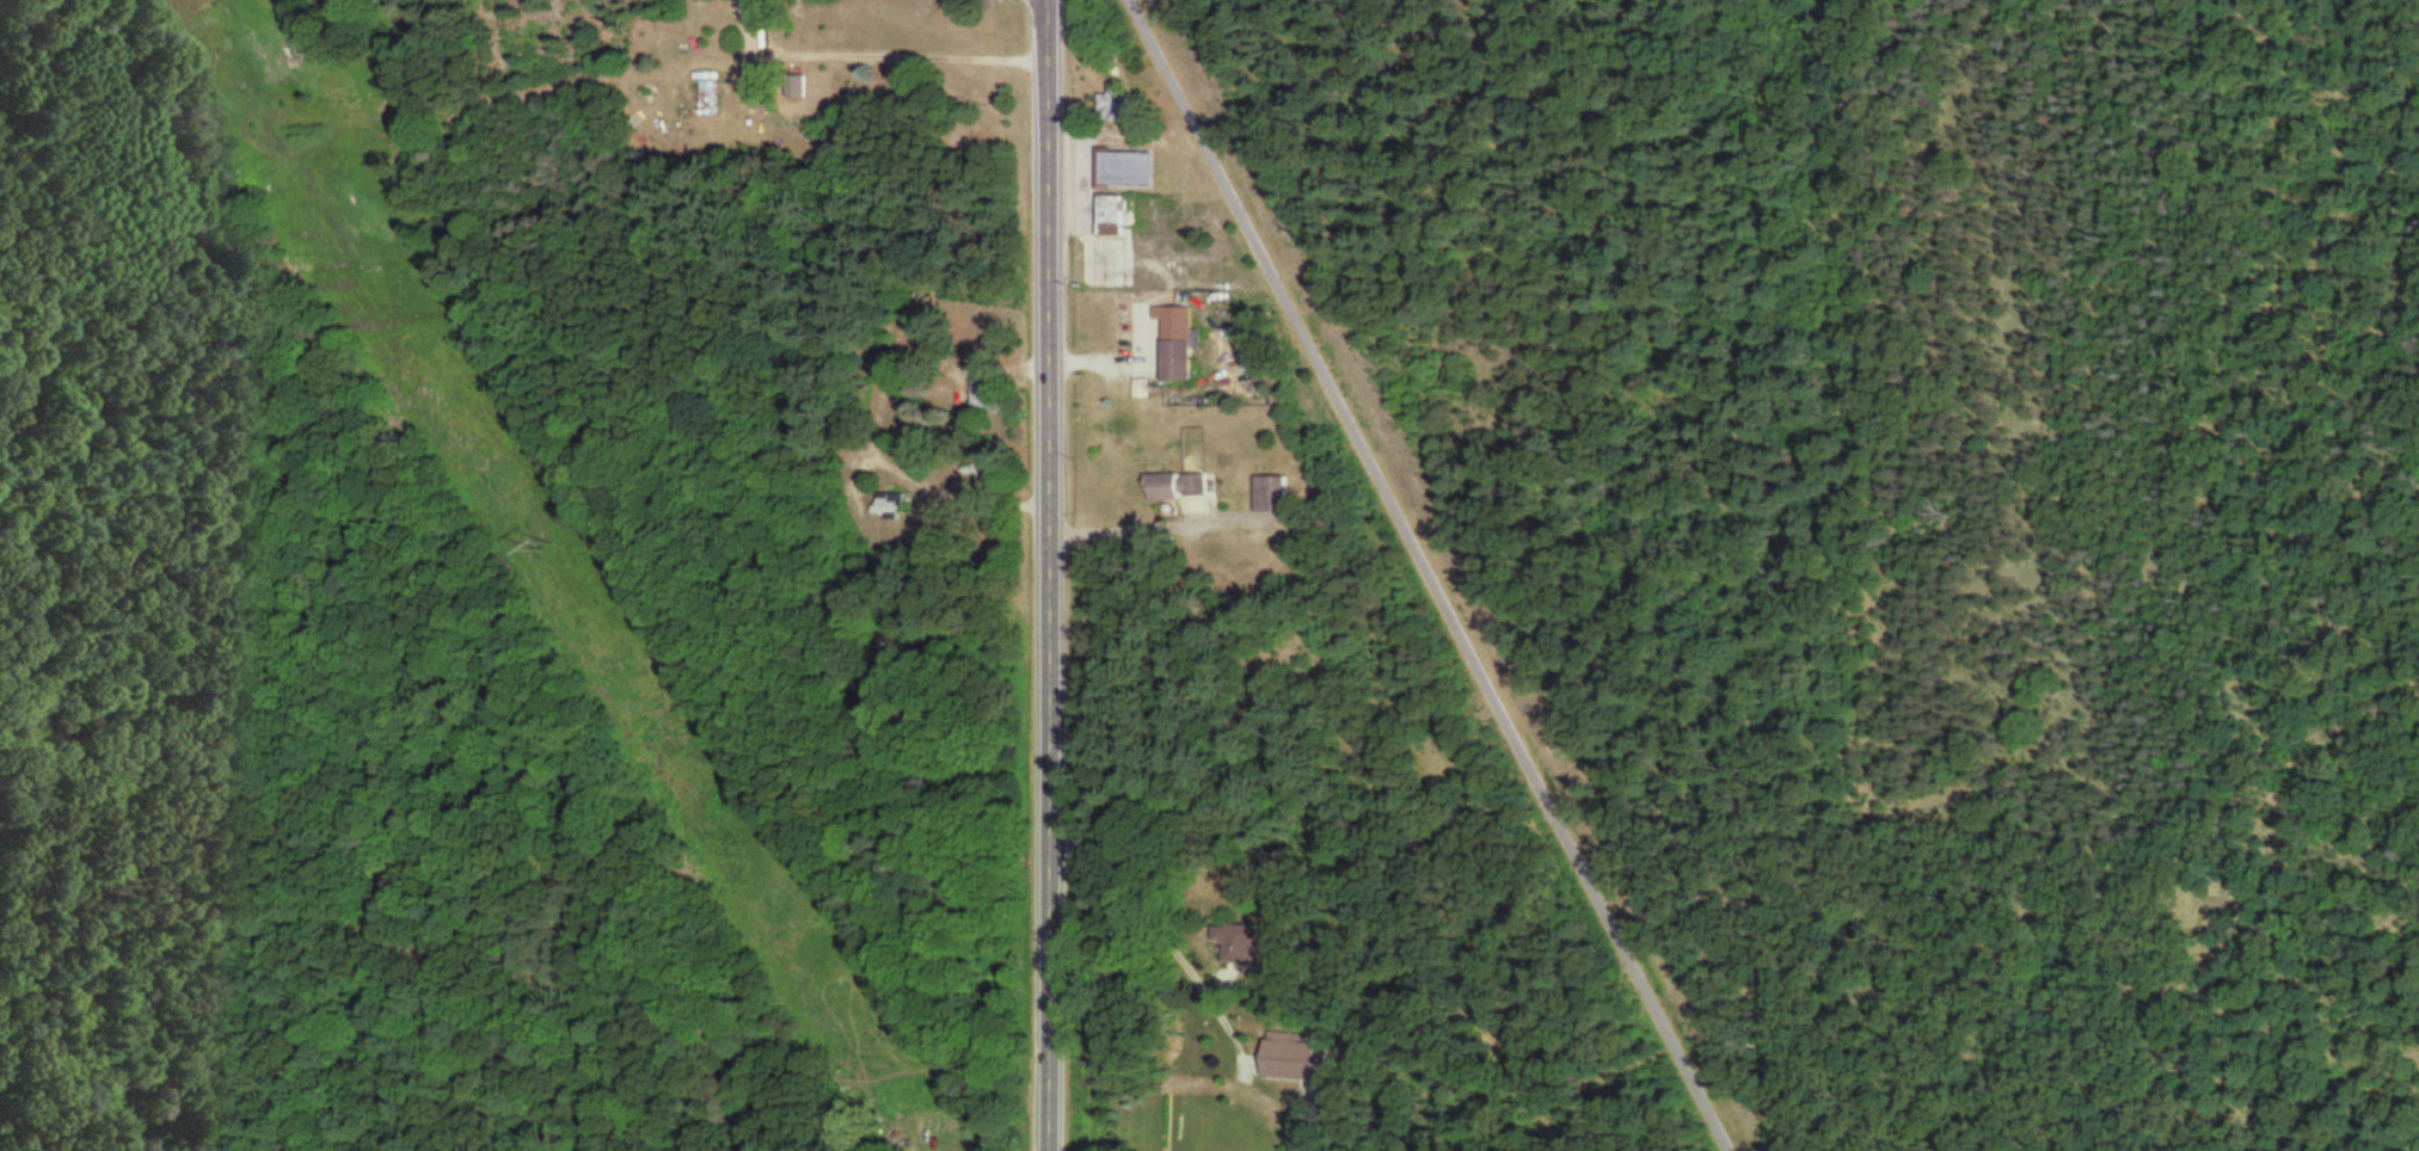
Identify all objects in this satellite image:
road: (885, 51)
building: (714, 100)
building: (1123, 106)
building: (1134, 171)
building: (1123, 217)
building: (1186, 346)
road: (2223, 371)
building: (989, 396)
building: (1184, 488)
road: (974, 493)
building: (1278, 496)
building: (897, 506)
road: (1129, 524)
power tower: (548, 540)
road: (1060, 575)
road: (1433, 575)
road: (2141, 763)
road: (1169, 935)
building: (1257, 946)
building: (1297, 1059)

